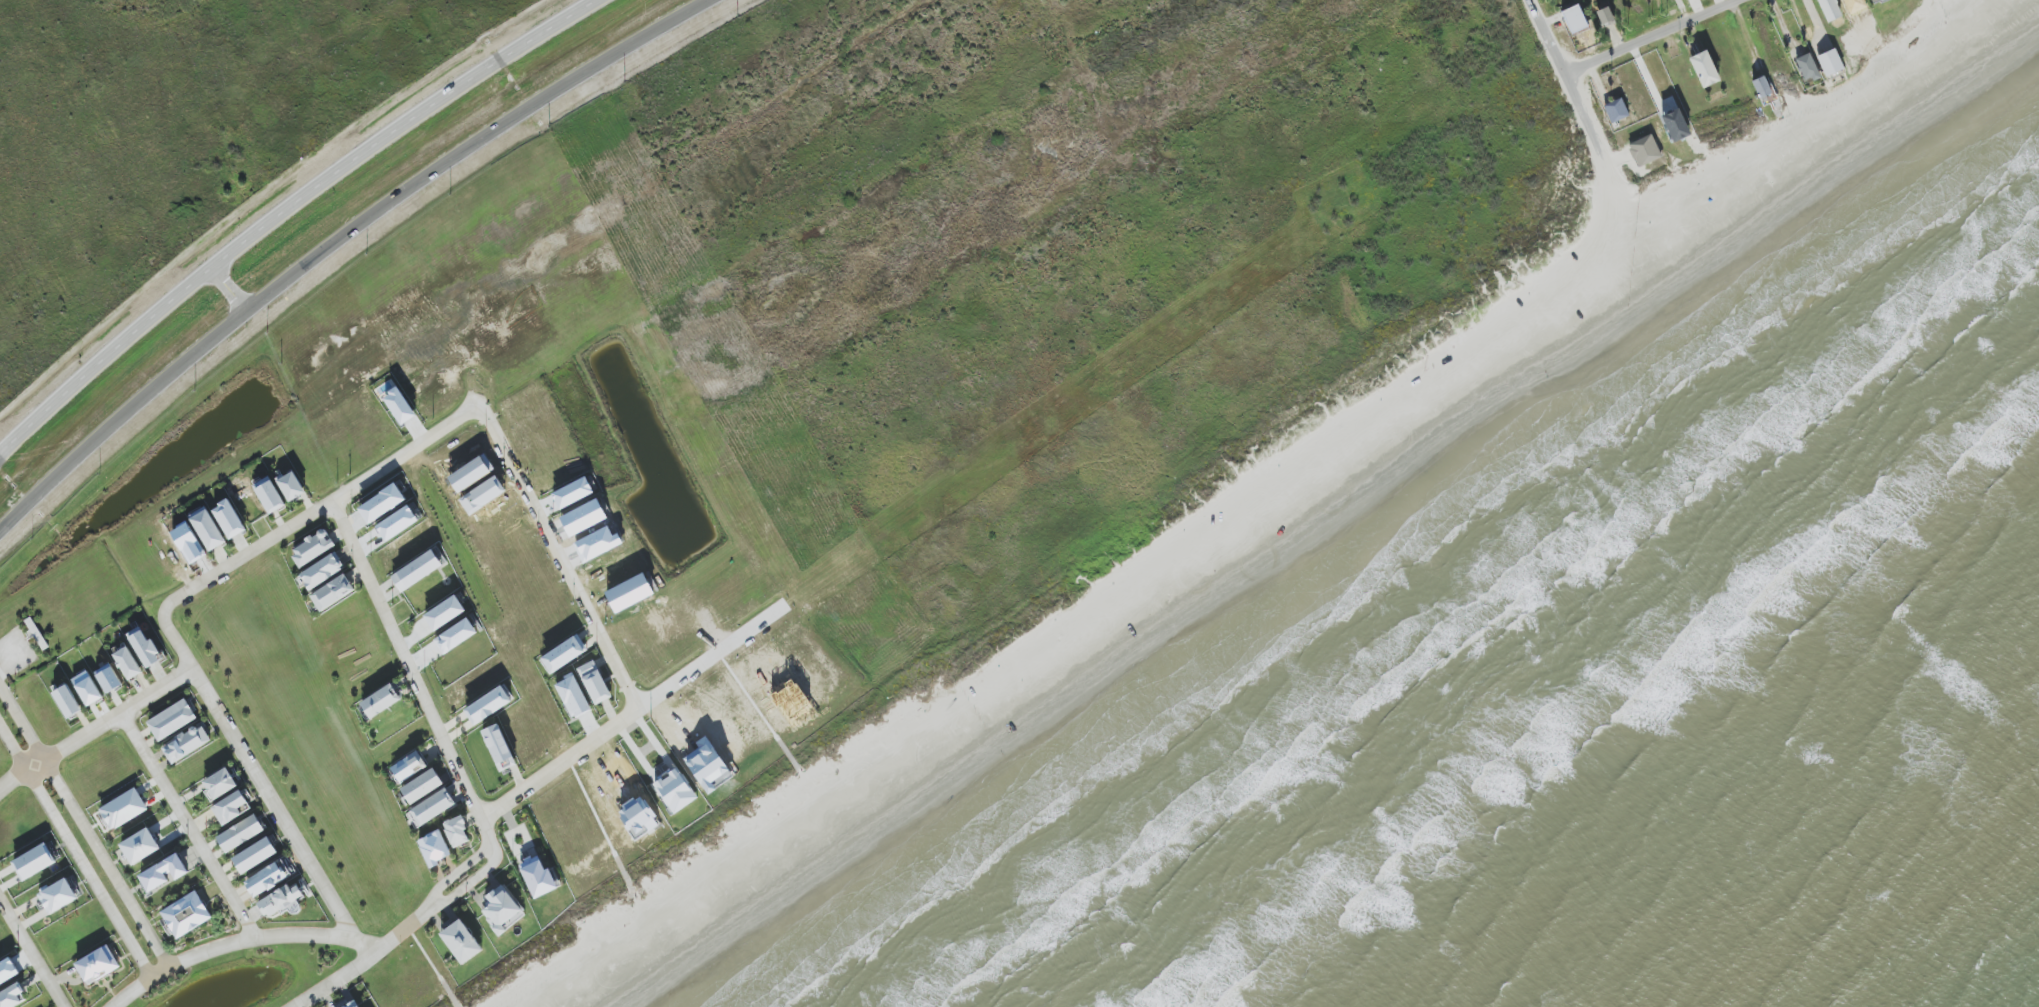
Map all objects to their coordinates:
building: (1872, 0)
building: (1828, 10)
building: (1604, 16)
building: (1574, 19)
road: (1656, 36)
building: (1830, 62)
building: (1807, 68)
building: (1704, 69)
building: (1762, 87)
road: (1578, 89)
building: (1615, 111)
building: (1675, 126)
road: (1705, 145)
building: (1644, 151)
road: (285, 211)
road: (336, 241)
road: (232, 290)
building: (399, 406)
building: (291, 487)
building: (269, 495)
building: (382, 504)
building: (229, 519)
building: (397, 523)
building: (207, 529)
building: (187, 542)
building: (312, 548)
road: (247, 555)
road: (564, 564)
building: (322, 571)
building: (416, 571)
building: (332, 593)
building: (444, 613)
building: (455, 636)
building: (144, 648)
building: (563, 655)
road: (710, 658)
building: (127, 663)
road: (414, 675)
building: (108, 678)
building: (594, 682)
building: (87, 688)
building: (573, 696)
building: (67, 702)
building: (381, 702)
building: (488, 705)
building: (172, 720)
road: (96, 730)
building: (186, 743)
building: (499, 747)
building: (705, 761)
building: (409, 767)
road: (257, 777)
building: (219, 784)
building: (422, 786)
building: (676, 791)
building: (433, 807)
building: (229, 808)
building: (123, 809)
road: (85, 827)
road: (190, 827)
building: (457, 832)
building: (240, 834)
building: (140, 846)
building: (434, 848)
road: (75, 854)
building: (255, 855)
building: (34, 862)
road: (459, 872)
building: (163, 873)
building: (537, 877)
building: (265, 880)
road: (471, 880)
building: (57, 896)
building: (281, 901)
building: (502, 910)
building: (186, 915)
road: (239, 942)
building: (461, 942)
road: (33, 951)
road: (369, 958)
building: (97, 964)
building: (7, 971)
building: (12, 997)
building: (352, 1005)

